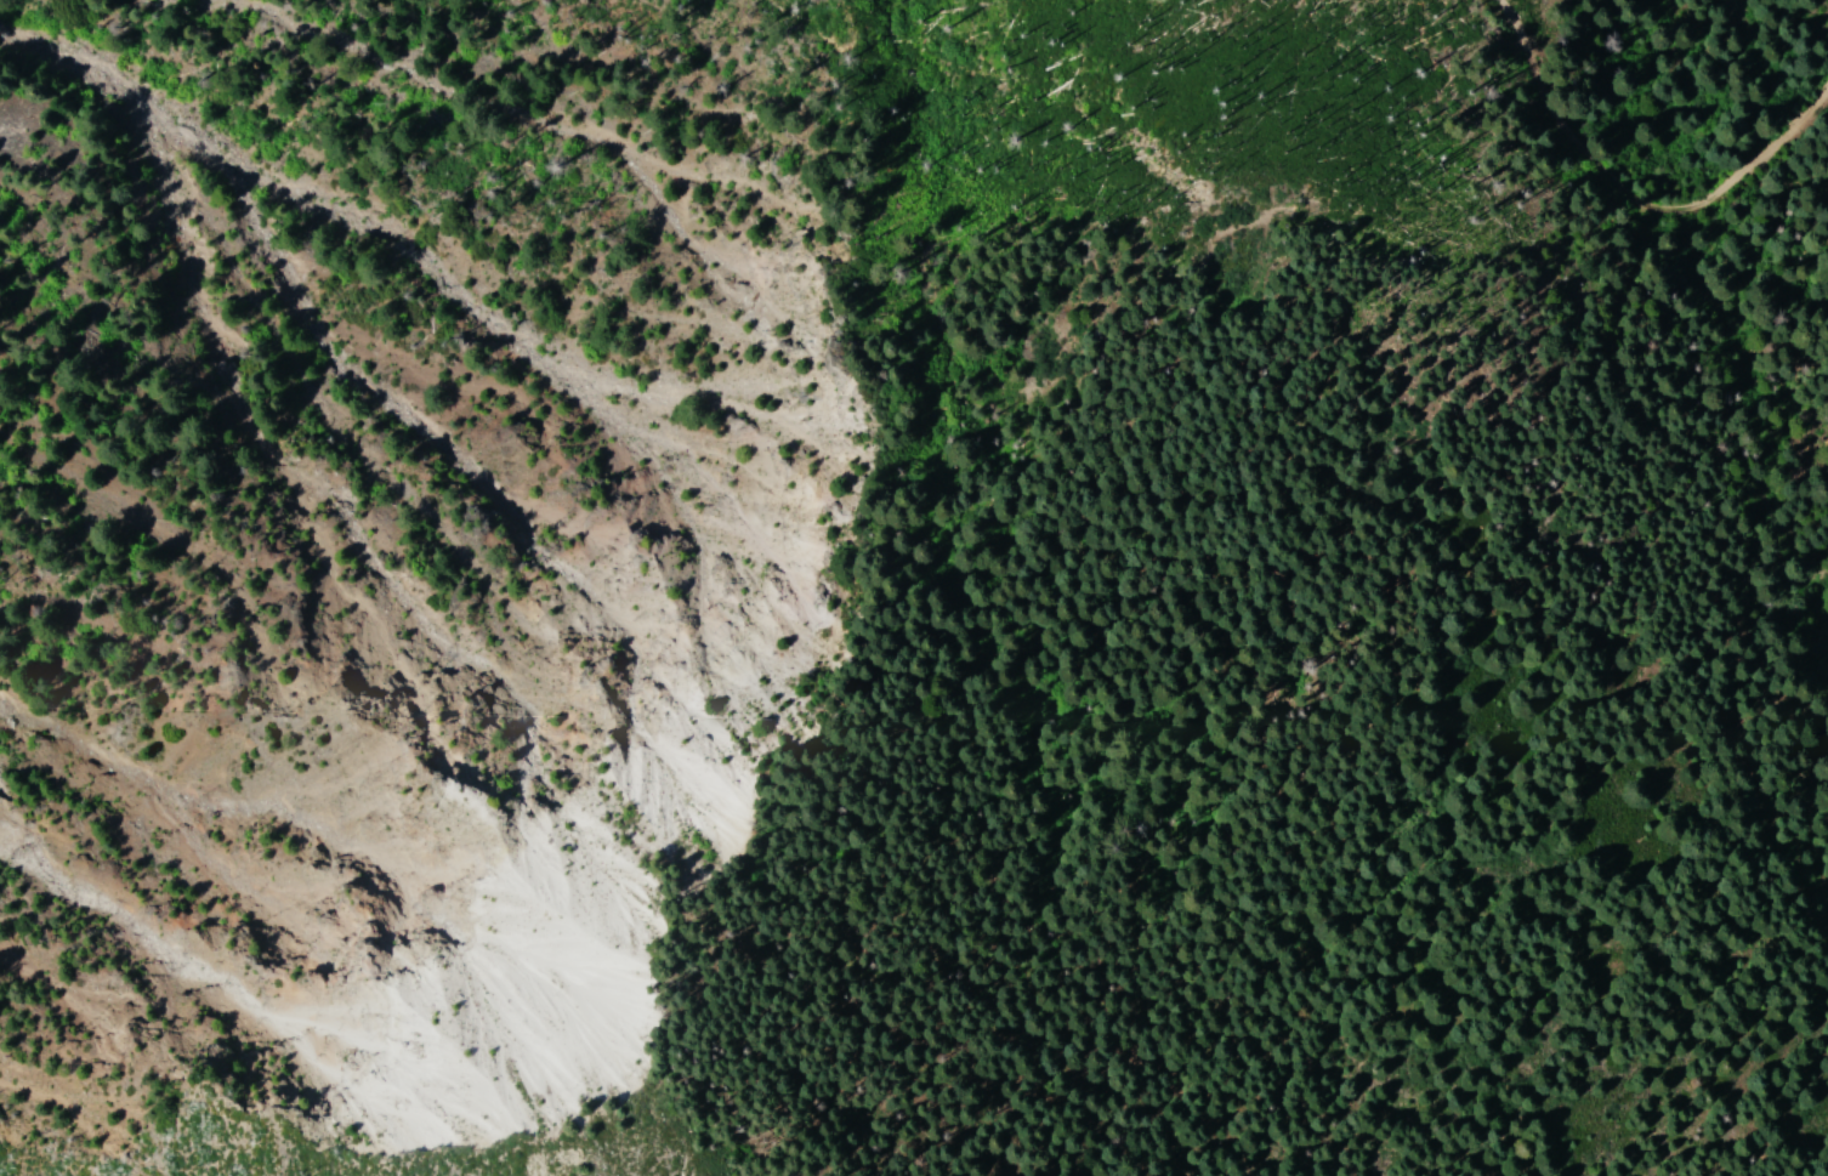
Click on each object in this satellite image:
road: (1635, 199)

